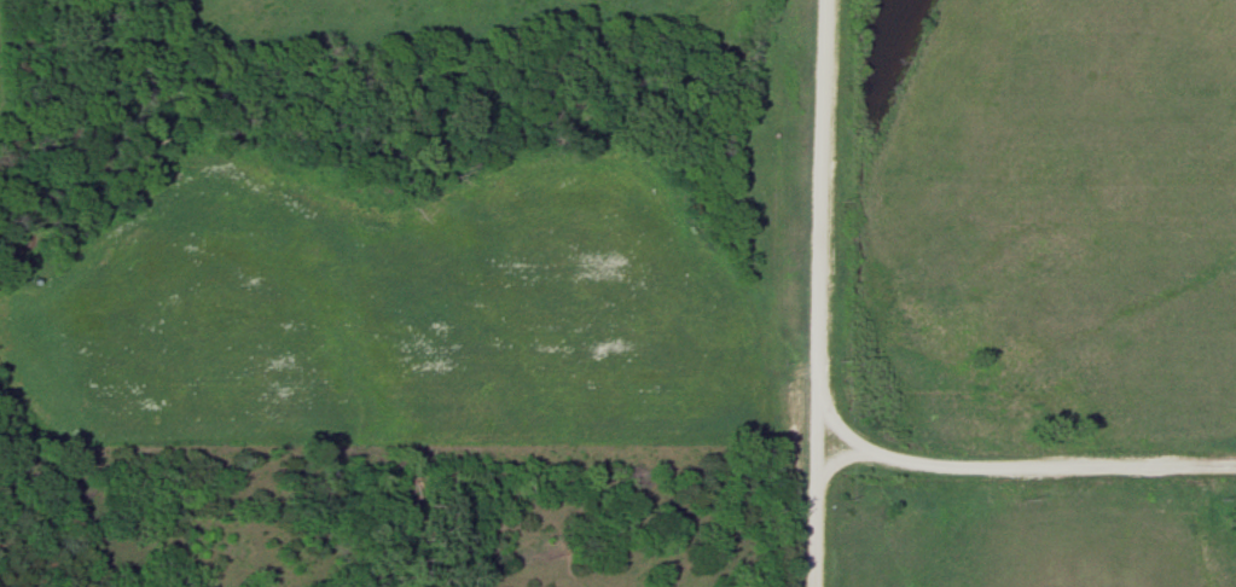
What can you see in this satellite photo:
road: (811, 293)
road: (831, 459)
road: (1012, 467)

